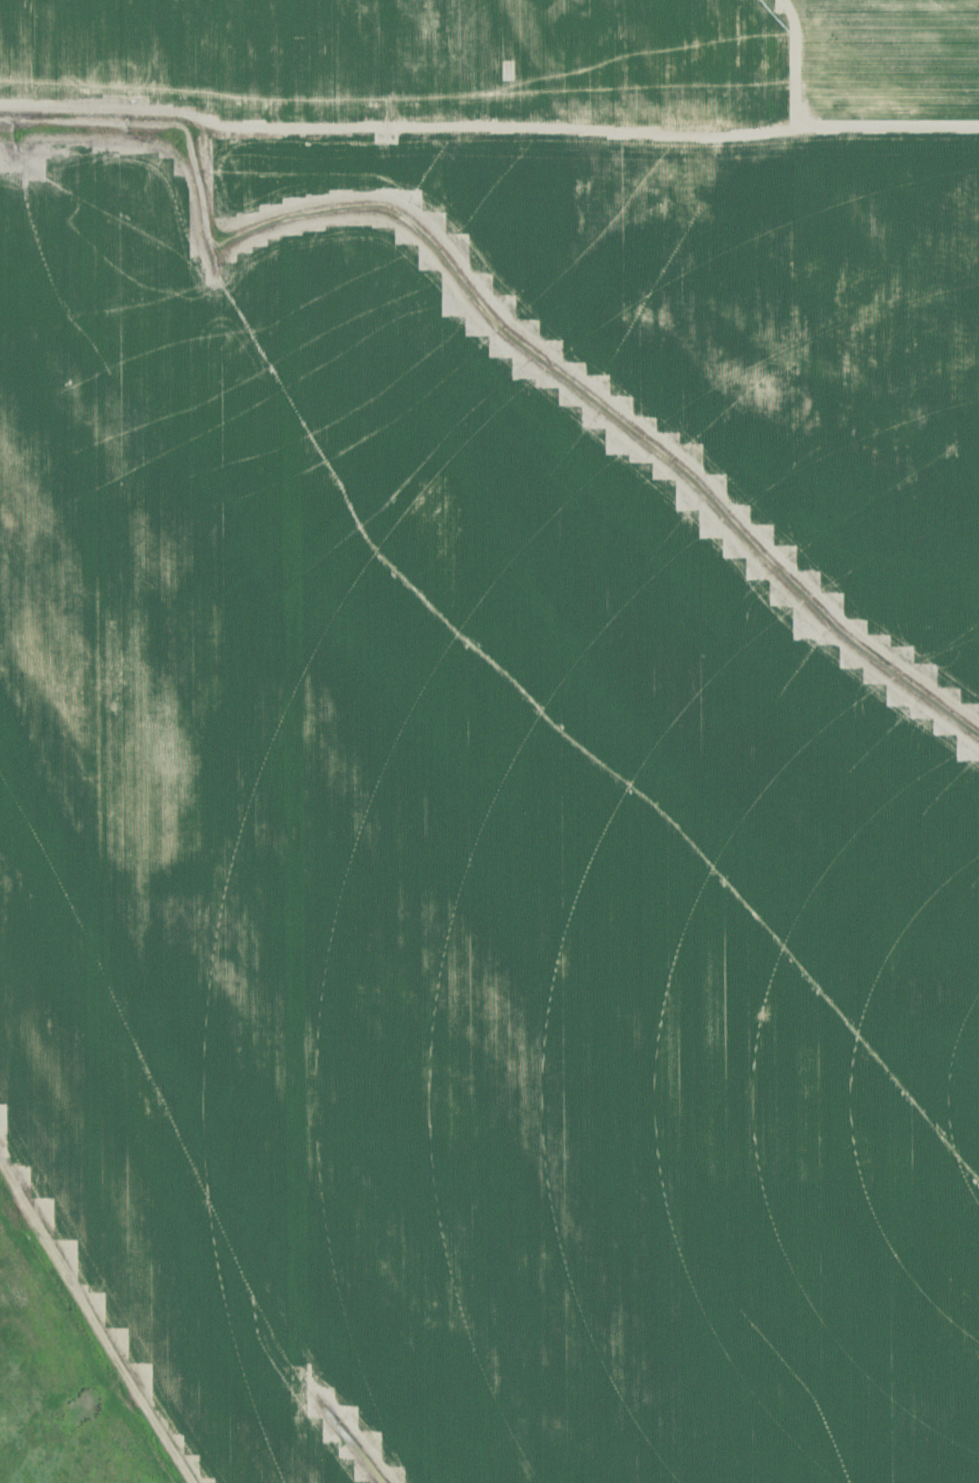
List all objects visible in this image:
road: (828, 127)
road: (91, 1323)

